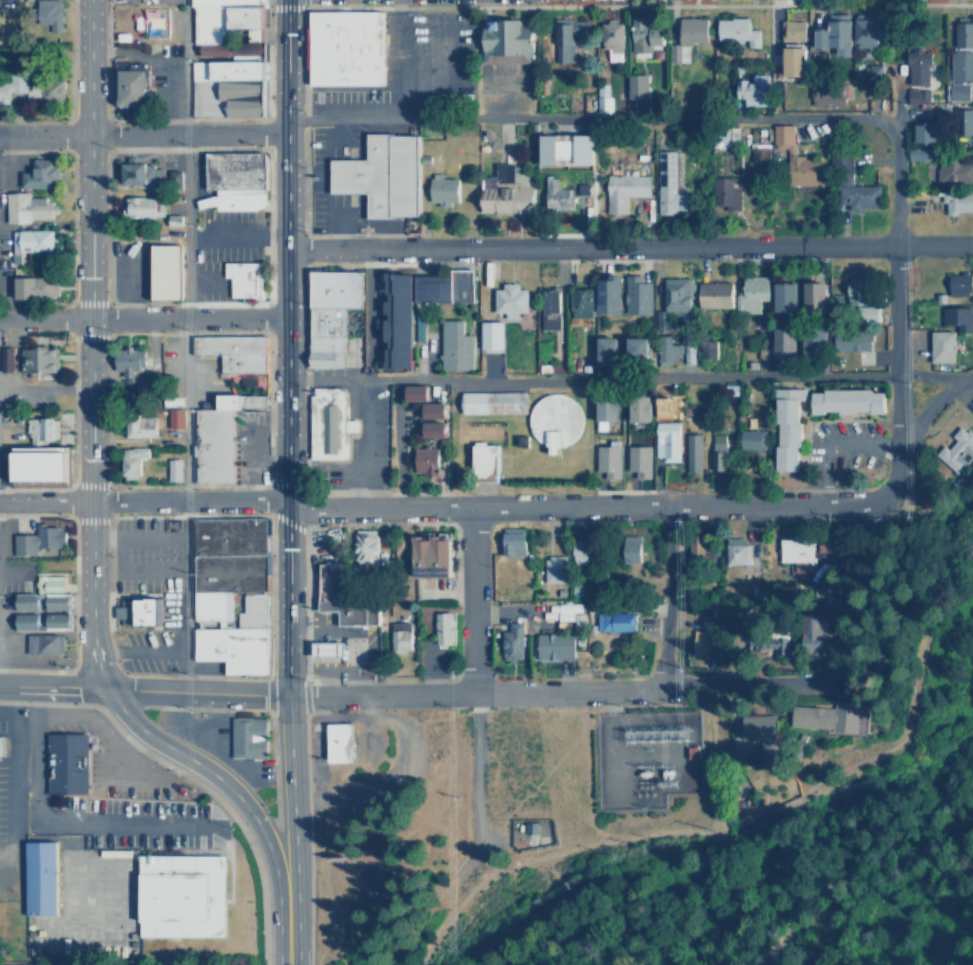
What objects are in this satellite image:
building: (47, 16)
building: (733, 30)
building: (690, 31)
building: (643, 33)
building: (566, 36)
building: (504, 38)
building: (610, 39)
building: (852, 39)
building: (792, 46)
building: (343, 47)
building: (226, 58)
building: (960, 58)
building: (917, 64)
building: (635, 84)
building: (11, 85)
building: (129, 86)
building: (750, 88)
building: (47, 90)
building: (825, 93)
building: (916, 94)
building: (600, 97)
road: (648, 118)
building: (961, 121)
building: (922, 133)
road: (142, 135)
building: (567, 148)
building: (760, 157)
building: (794, 157)
building: (944, 167)
building: (39, 174)
building: (139, 174)
building: (382, 175)
building: (231, 181)
building: (847, 183)
building: (622, 190)
building: (441, 191)
building: (503, 192)
building: (723, 193)
building: (555, 194)
building: (668, 196)
building: (955, 201)
building: (27, 208)
building: (138, 208)
building: (31, 239)
road: (629, 248)
building: (165, 272)
building: (242, 280)
building: (957, 285)
building: (42, 287)
building: (442, 288)
building: (620, 290)
building: (750, 293)
building: (638, 295)
building: (712, 295)
building: (675, 296)
building: (782, 296)
building: (811, 297)
building: (509, 300)
building: (580, 301)
building: (859, 301)
building: (548, 307)
building: (330, 314)
building: (948, 316)
building: (396, 317)
road: (143, 318)
building: (420, 327)
building: (492, 334)
building: (853, 341)
building: (782, 342)
building: (811, 343)
road: (895, 345)
building: (454, 346)
building: (940, 347)
building: (635, 350)
building: (604, 351)
building: (233, 352)
building: (669, 353)
building: (6, 359)
building: (37, 359)
building: (132, 363)
road: (625, 381)
road: (45, 390)
building: (418, 393)
building: (845, 401)
building: (491, 403)
road: (932, 405)
building: (641, 407)
building: (436, 410)
building: (609, 410)
building: (175, 417)
building: (552, 421)
building: (138, 426)
building: (328, 426)
building: (785, 427)
building: (40, 428)
building: (435, 429)
building: (751, 439)
building: (214, 443)
road: (286, 446)
building: (667, 447)
building: (691, 450)
building: (956, 450)
building: (716, 452)
building: (483, 459)
building: (608, 460)
building: (640, 460)
building: (130, 461)
building: (425, 461)
building: (36, 463)
building: (172, 470)
road: (89, 485)
road: (143, 502)
road: (610, 506)
road: (135, 514)
road: (337, 524)
building: (39, 539)
building: (511, 540)
building: (363, 546)
building: (400, 546)
building: (793, 549)
building: (628, 550)
building: (698, 550)
building: (578, 552)
building: (735, 553)
road: (177, 555)
building: (429, 556)
building: (552, 568)
road: (271, 586)
road: (75, 592)
building: (230, 592)
road: (109, 593)
road: (665, 595)
building: (342, 599)
road: (473, 600)
building: (45, 606)
building: (139, 612)
building: (612, 620)
building: (442, 629)
road: (177, 631)
building: (398, 632)
building: (812, 632)
building: (510, 640)
building: (701, 641)
building: (769, 642)
building: (45, 644)
building: (553, 645)
road: (150, 650)
building: (329, 651)
road: (49, 669)
road: (191, 674)
road: (379, 679)
road: (79, 687)
road: (142, 691)
road: (559, 693)
road: (59, 702)
road: (194, 707)
road: (316, 711)
building: (823, 716)
building: (758, 734)
building: (246, 737)
road: (109, 742)
road: (132, 742)
building: (337, 742)
road: (126, 744)
power substation: (643, 756)
road: (715, 758)
building: (66, 762)
road: (271, 772)
park: (904, 773)
road: (478, 781)
road: (63, 817)
road: (228, 822)
road: (753, 825)
building: (531, 827)
road: (309, 830)
road: (251, 851)
road: (471, 857)
building: (41, 878)
road: (845, 879)
road: (326, 880)
building: (183, 895)
road: (285, 928)
road: (324, 940)
building: (19, 964)

